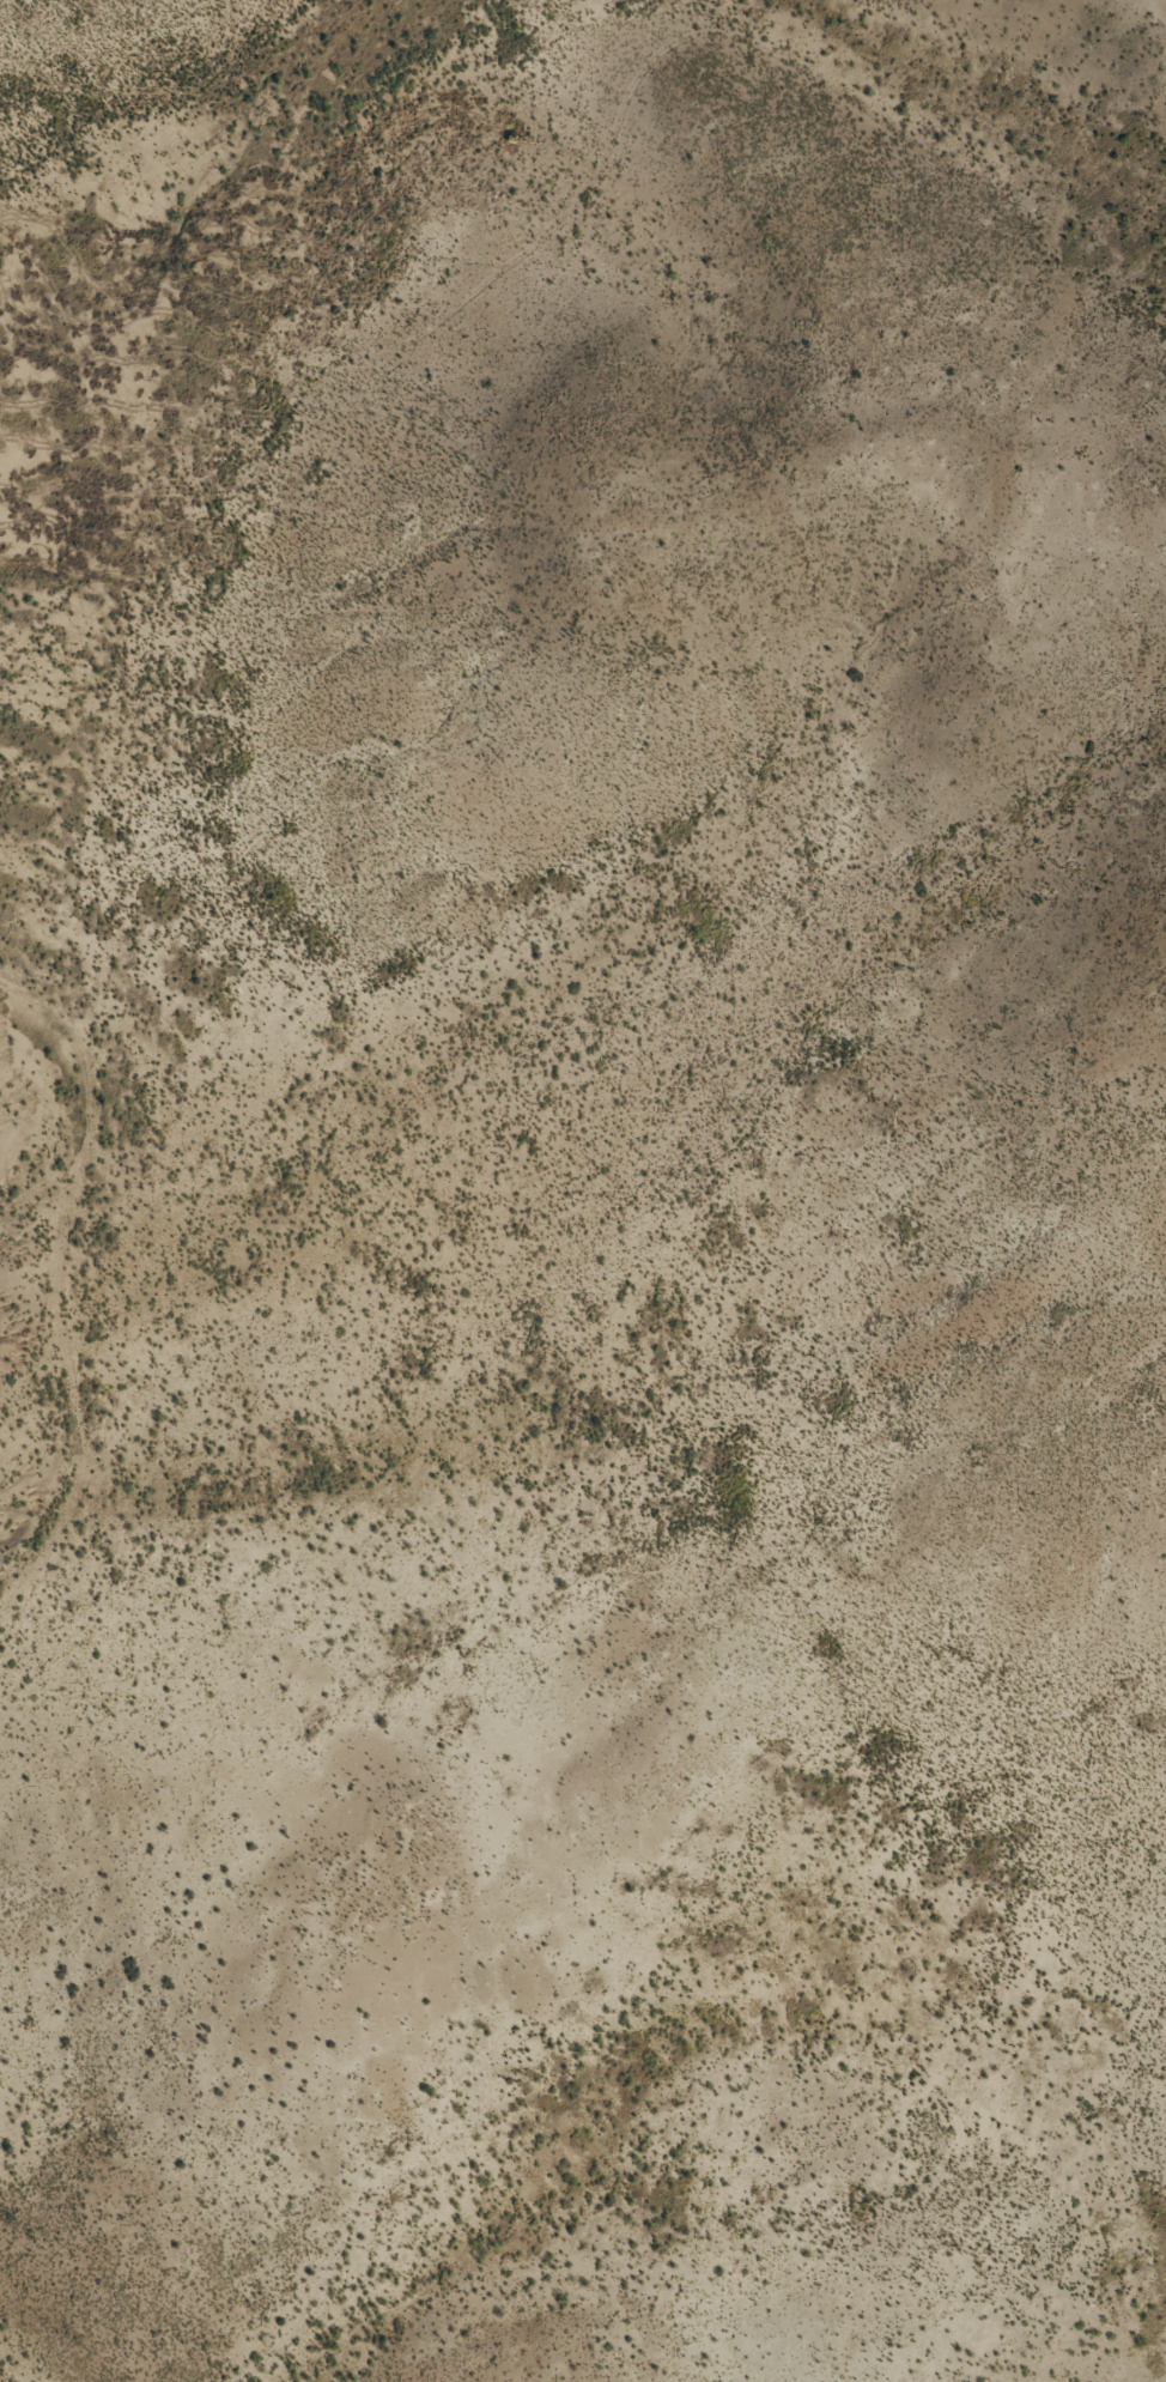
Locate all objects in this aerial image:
road: (608, 223)
road: (61, 1334)

